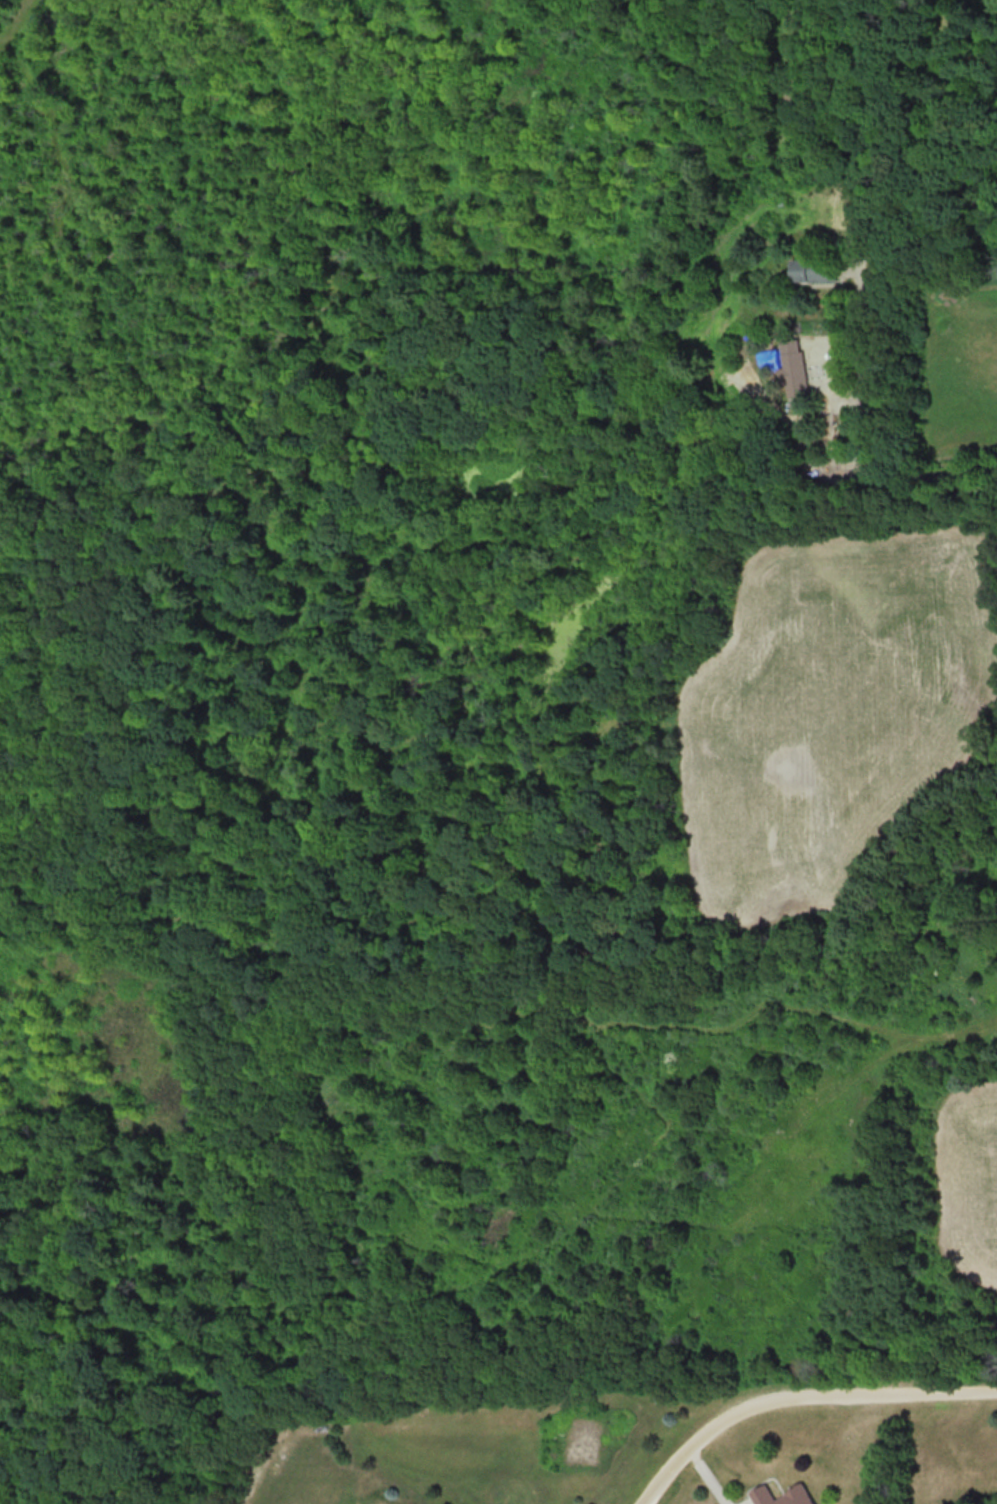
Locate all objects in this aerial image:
road: (784, 87)
building: (815, 271)
building: (795, 373)
road: (904, 466)
road: (798, 1398)
building: (782, 1496)

